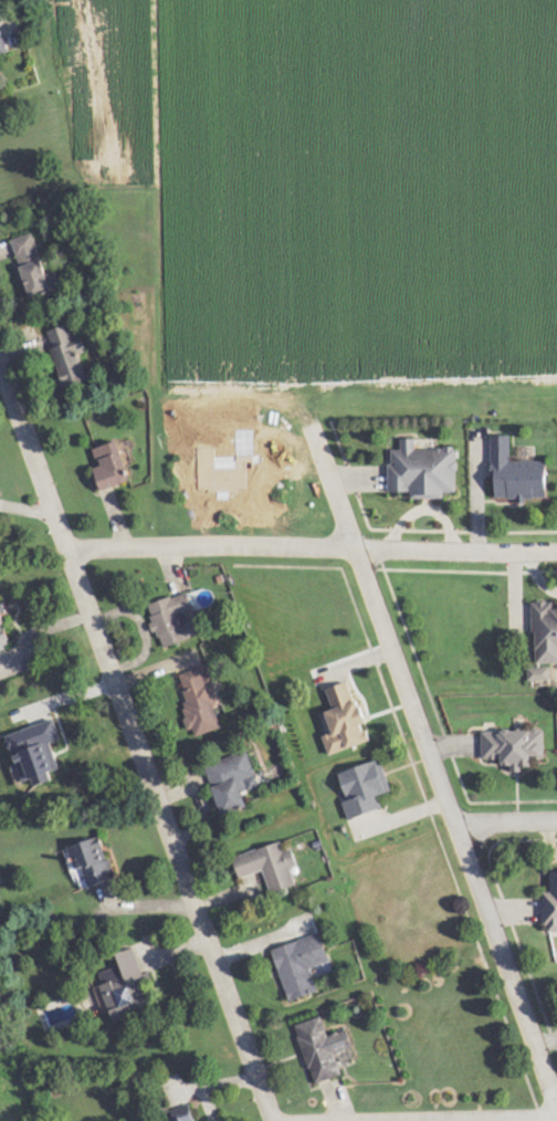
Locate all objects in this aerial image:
building: (3, 41)
building: (0, 91)
building: (35, 263)
building: (70, 350)
building: (114, 461)
building: (427, 465)
building: (519, 470)
road: (337, 489)
road: (213, 544)
road: (458, 549)
building: (176, 616)
building: (6, 622)
building: (547, 628)
building: (538, 673)
building: (202, 696)
building: (348, 715)
road: (138, 736)
building: (516, 742)
building: (35, 751)
building: (235, 778)
building: (368, 784)
road: (507, 818)
road: (459, 824)
building: (96, 857)
building: (273, 861)
building: (553, 903)
building: (303, 961)
building: (129, 983)
building: (325, 1046)
road: (556, 1093)
building: (182, 1114)
road: (427, 1118)

